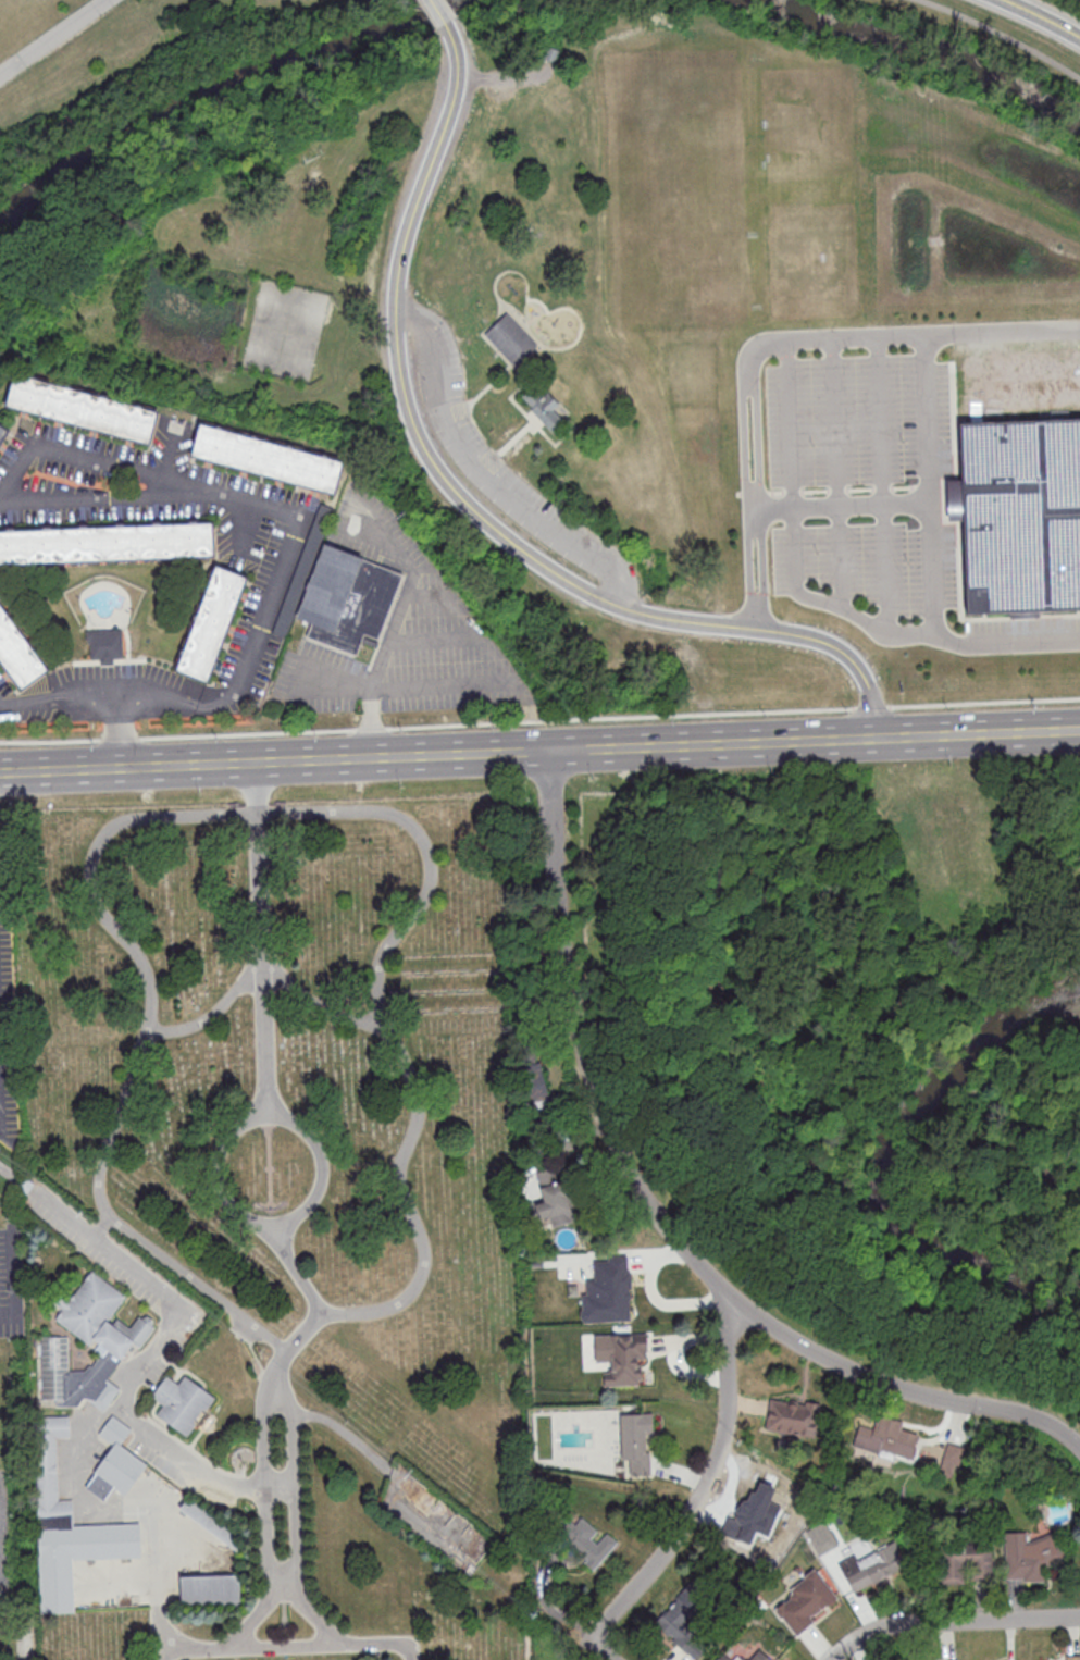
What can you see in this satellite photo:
park: (431, 10)
road: (438, 12)
road: (1038, 18)
road: (51, 35)
road: (1000, 37)
park: (955, 45)
river: (915, 49)
building: (551, 53)
road: (504, 77)
river: (203, 85)
park: (137, 87)
park: (674, 172)
park: (806, 258)
park: (287, 329)
road: (1002, 332)
road: (831, 336)
building: (509, 338)
park: (631, 340)
building: (80, 408)
building: (545, 409)
building: (1, 428)
building: (266, 458)
parking lot: (499, 458)
road: (834, 470)
road: (481, 474)
parking lot: (848, 475)
road: (930, 481)
road: (880, 483)
road: (747, 494)
road: (760, 494)
road: (464, 505)
road: (839, 505)
road: (285, 512)
building: (1019, 517)
building: (107, 542)
road: (792, 542)
building: (346, 598)
building: (211, 623)
road: (396, 625)
parking lot: (1022, 634)
road: (437, 637)
road: (1005, 643)
building: (105, 647)
building: (16, 654)
road: (444, 683)
road: (58, 699)
road: (121, 733)
road: (976, 734)
road: (798, 741)
road: (636, 747)
road: (273, 761)
road: (239, 815)
road: (259, 939)
park: (842, 993)
road: (314, 1001)
road: (212, 1013)
building: (533, 1078)
park: (1021, 1160)
river: (889, 1161)
road: (8, 1174)
building: (25, 1184)
building: (554, 1206)
road: (232, 1209)
road: (658, 1223)
road: (101, 1228)
park: (272, 1230)
building: (563, 1269)
parking lot: (11, 1279)
building: (615, 1287)
road: (310, 1297)
road: (656, 1300)
building: (121, 1340)
road: (149, 1355)
building: (624, 1358)
building: (182, 1402)
building: (792, 1416)
road: (330, 1422)
building: (636, 1441)
building: (886, 1441)
building: (953, 1454)
building: (115, 1462)
road: (706, 1479)
road: (264, 1512)
road: (293, 1512)
building: (750, 1519)
building: (210, 1522)
building: (67, 1525)
road: (0, 1535)
parking lot: (8, 1538)
building: (823, 1540)
building: (587, 1543)
road: (1, 1547)
building: (1030, 1554)
building: (965, 1562)
building: (867, 1569)
road: (282, 1580)
building: (211, 1590)
road: (544, 1601)
building: (804, 1601)
road: (948, 1621)
building: (676, 1623)
road: (157, 1632)
road: (21, 1644)
road: (286, 1647)
road: (600, 1649)
building: (756, 1656)
building: (724, 1657)
building: (1071, 1657)
building: (956, 1659)

